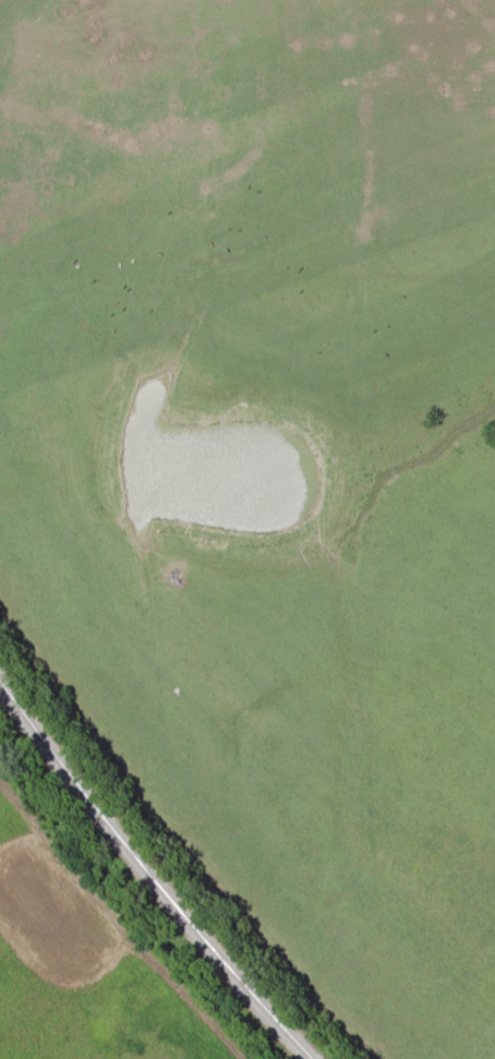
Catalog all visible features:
railway: (167, 843)

